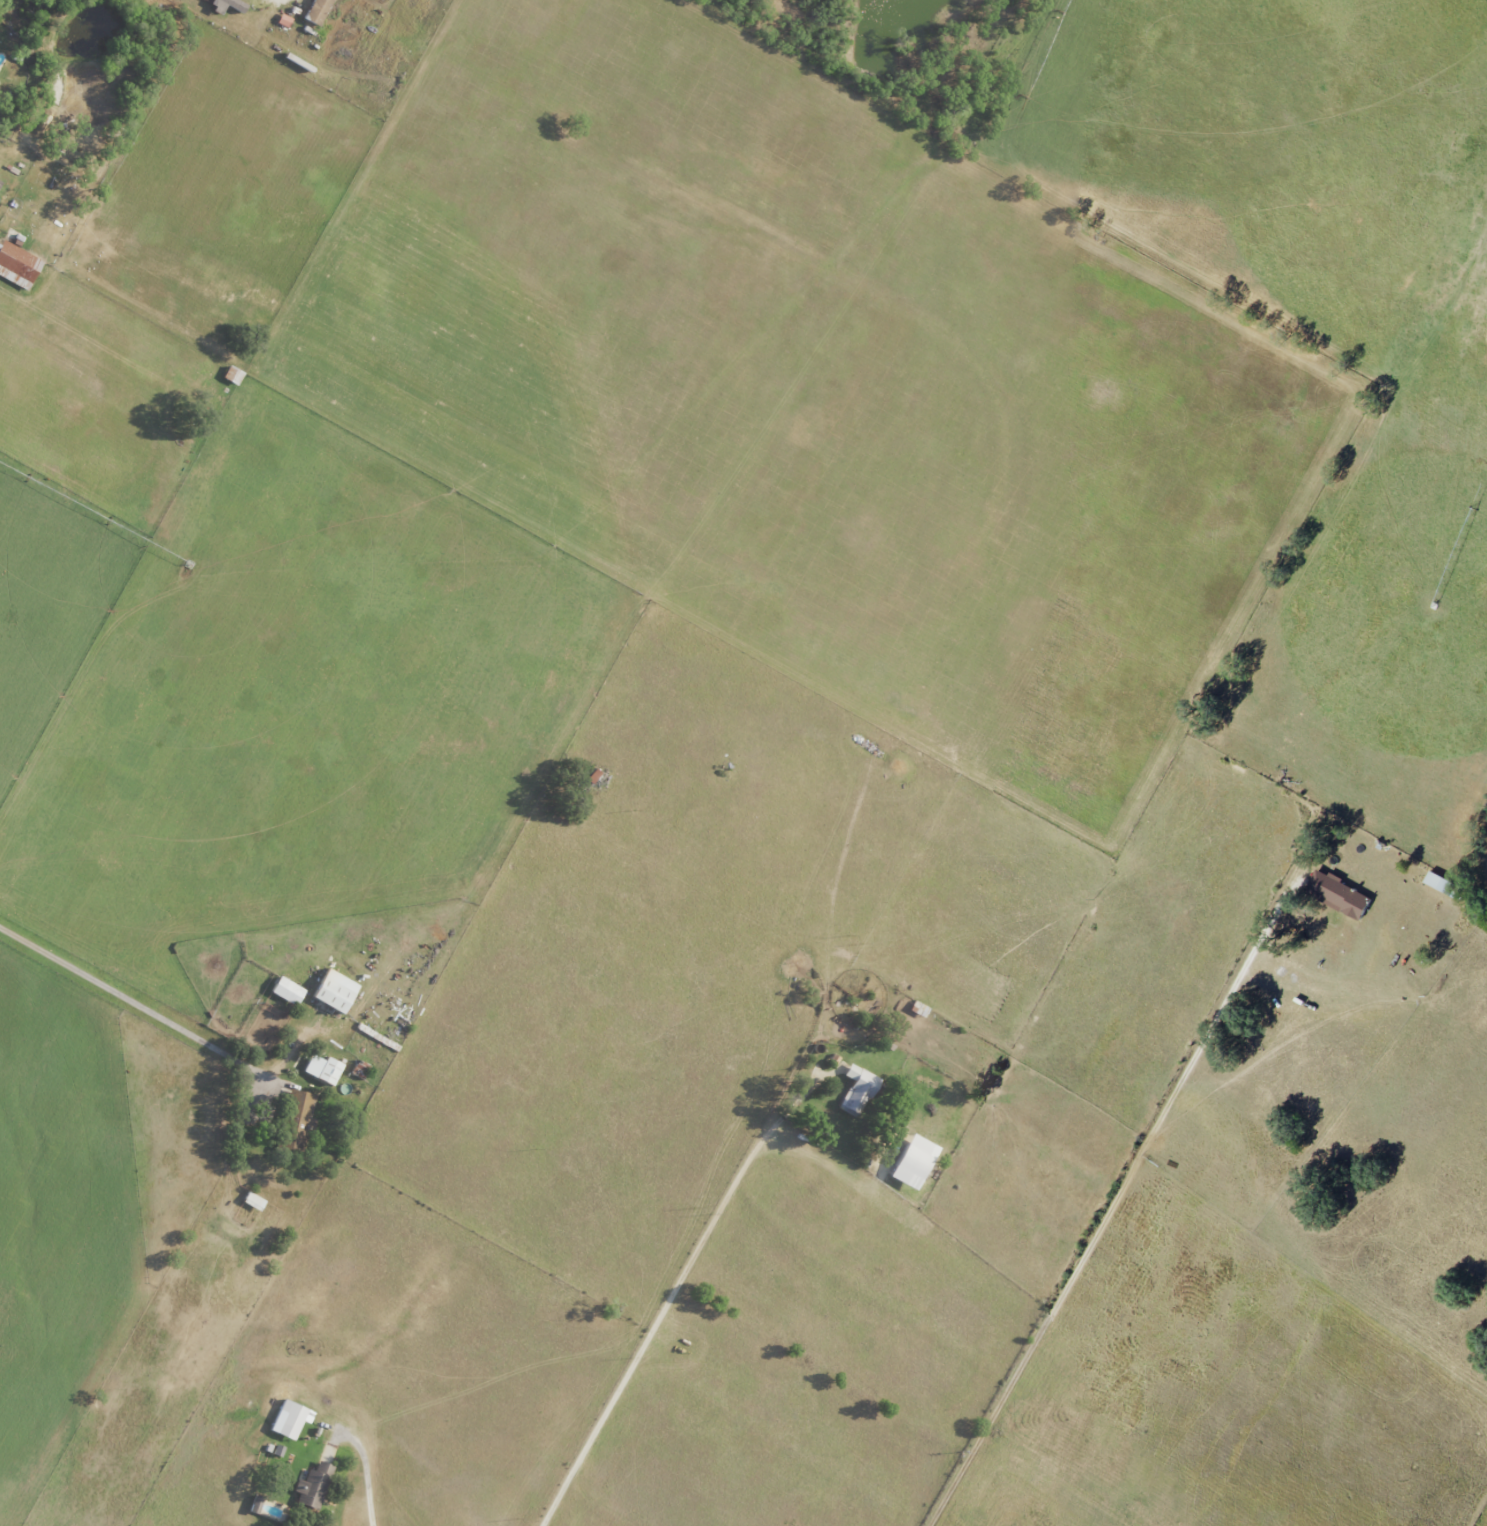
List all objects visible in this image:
building: (226, 4)
building: (314, 11)
building: (16, 266)
building: (1336, 894)
building: (289, 991)
building: (338, 991)
road: (137, 1004)
building: (325, 1069)
building: (856, 1090)
building: (300, 1111)
building: (909, 1162)
road: (1113, 1202)
road: (673, 1295)
building: (293, 1419)
road: (364, 1472)
building: (316, 1486)
building: (258, 1504)

